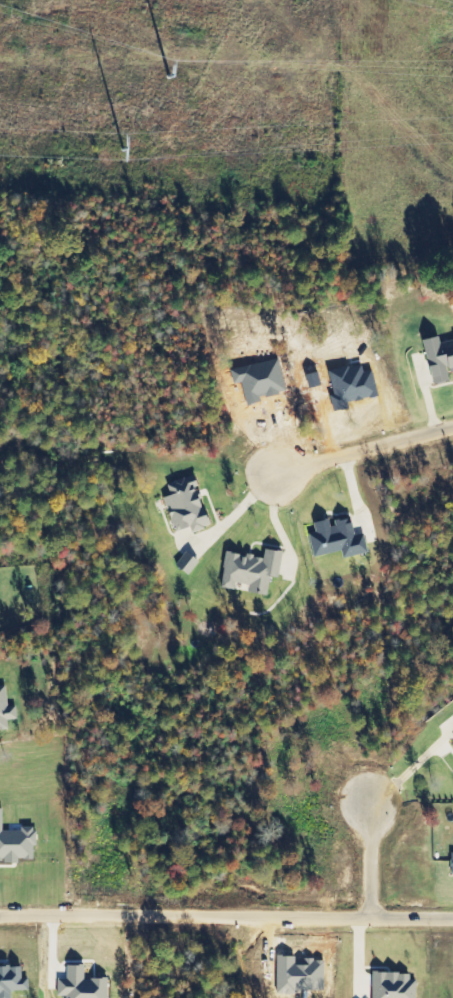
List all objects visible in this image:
power tower: (175, 67)
power tower: (135, 146)
building: (440, 359)
building: (187, 505)
building: (339, 539)
building: (188, 563)
building: (252, 571)
building: (6, 710)
building: (452, 866)
road: (226, 910)
building: (12, 981)
building: (81, 985)
building: (394, 985)

